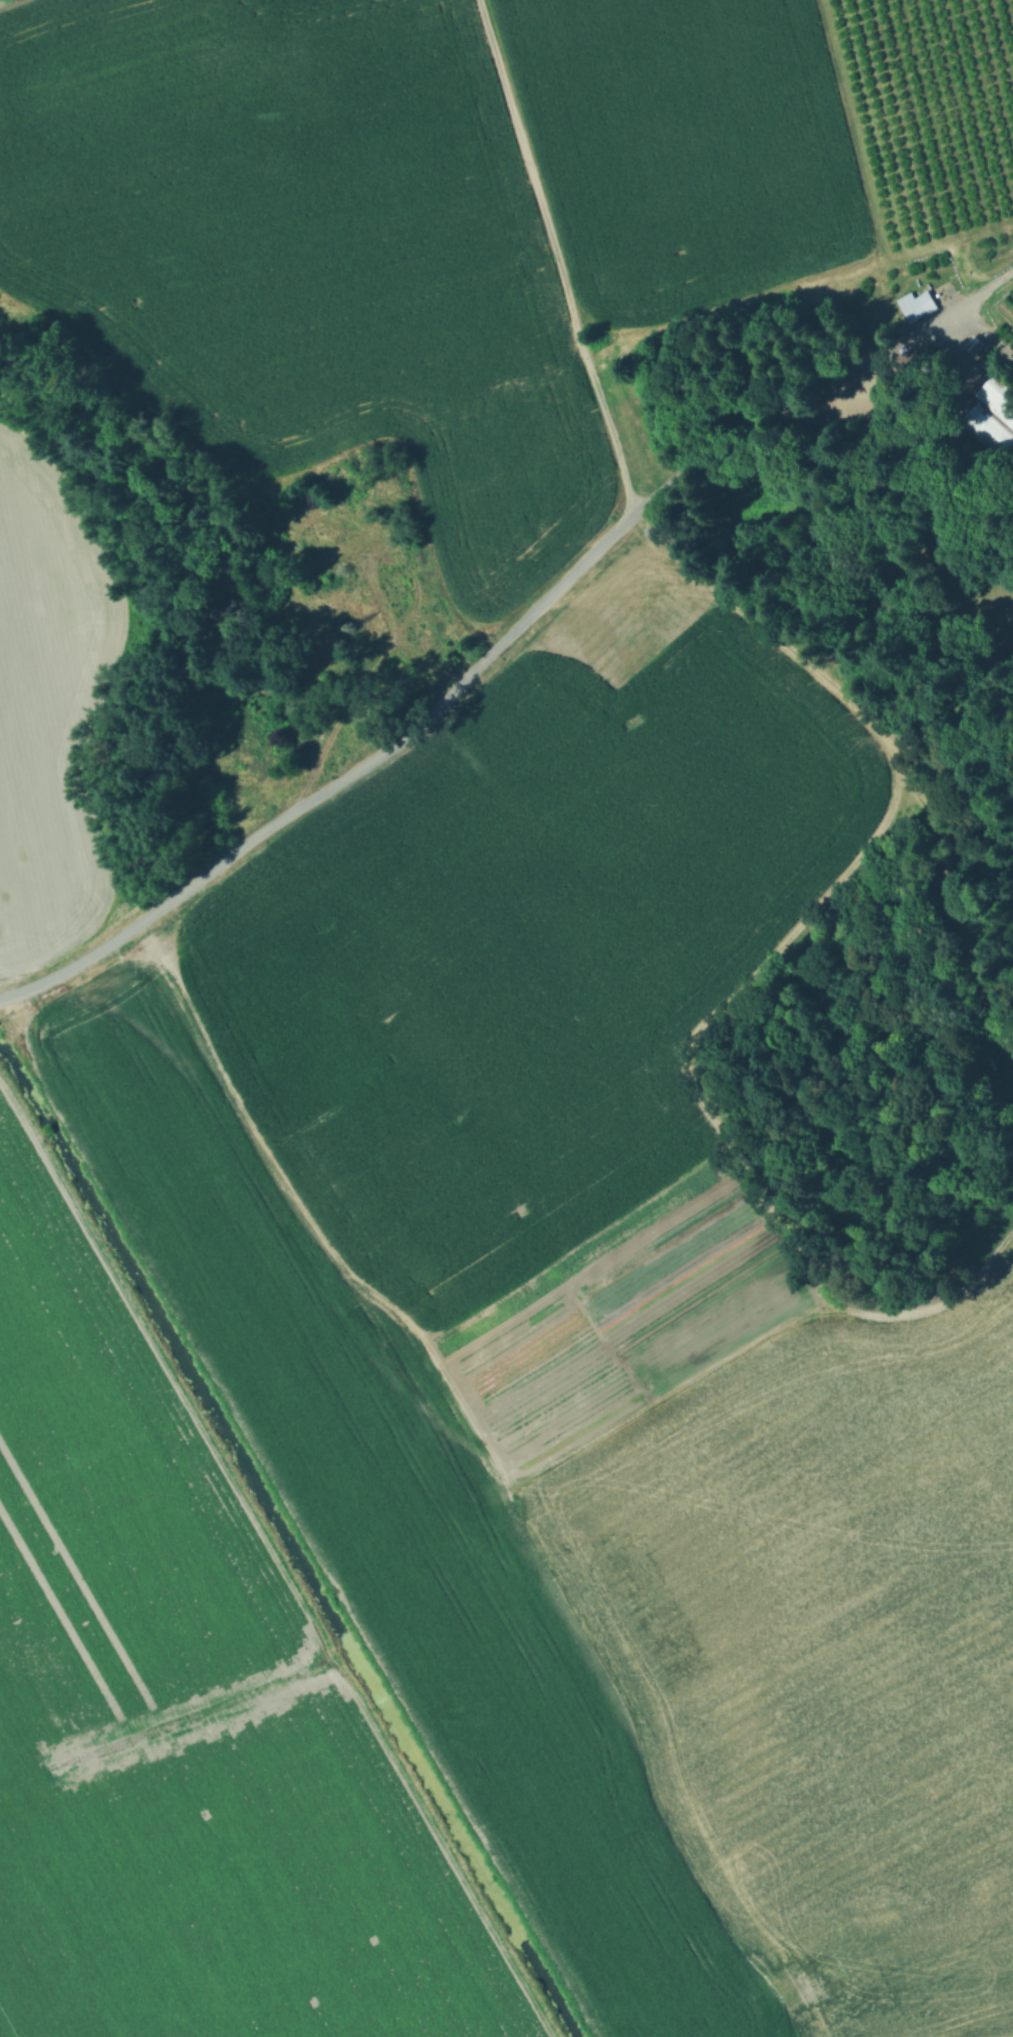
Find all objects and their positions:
road: (3, 1)
crop: (478, 211)
building: (917, 302)
crop: (1005, 304)
building: (913, 310)
road: (991, 330)
building: (999, 388)
building: (990, 426)
building: (327, 544)
road: (509, 635)
crop: (40, 718)
crop: (640, 1591)
crop: (183, 1721)

